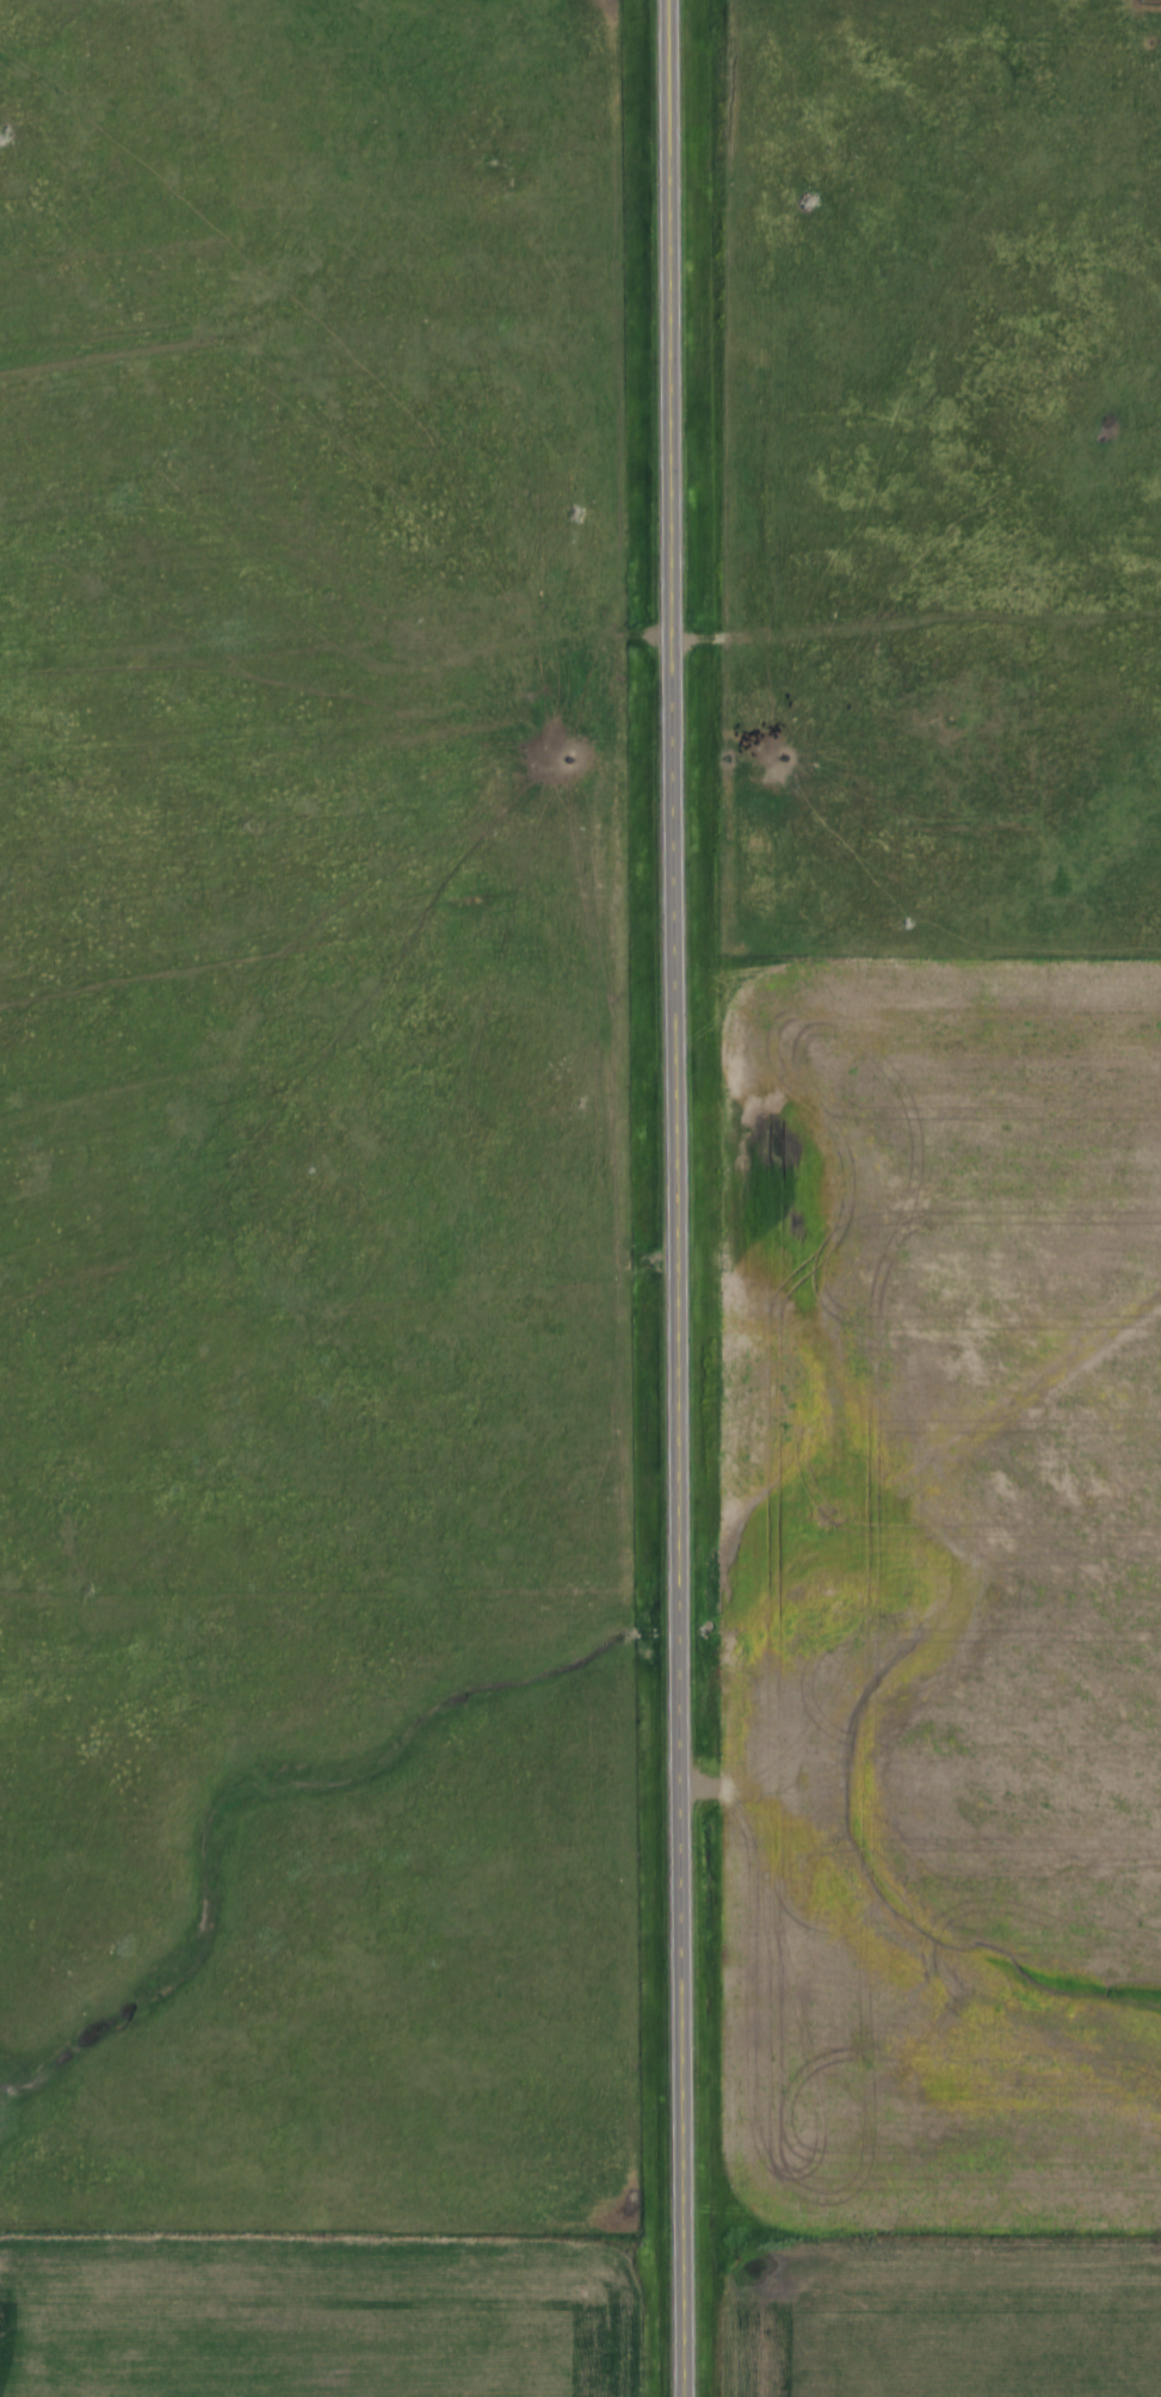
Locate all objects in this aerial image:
road: (678, 1198)

